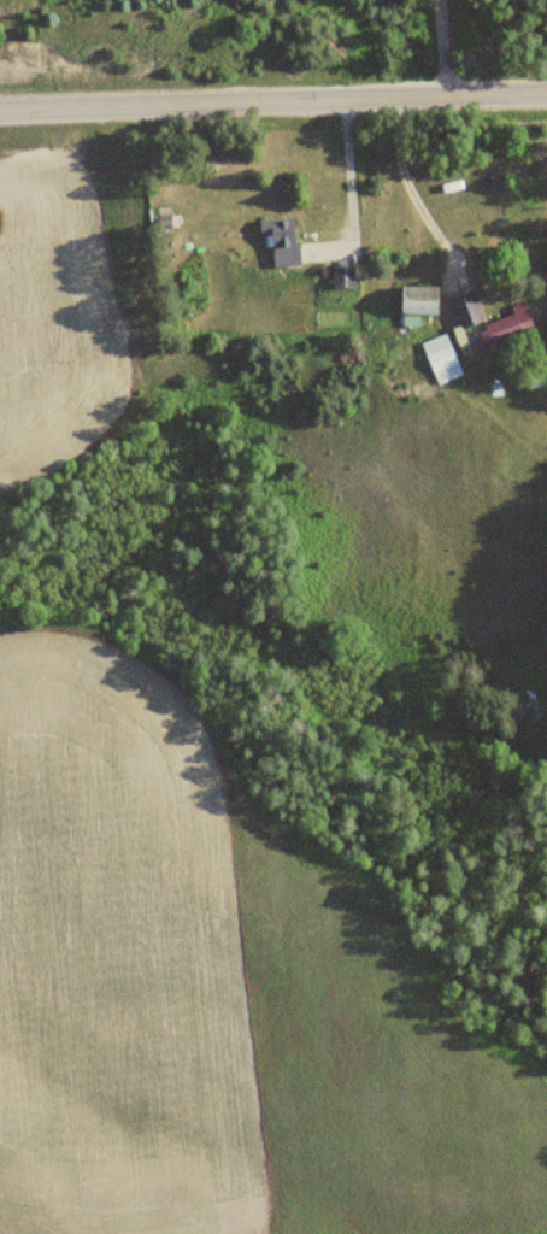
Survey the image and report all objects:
road: (445, 48)
road: (273, 101)
building: (280, 241)
building: (341, 278)
building: (416, 301)
building: (465, 310)
building: (499, 331)
building: (441, 359)

